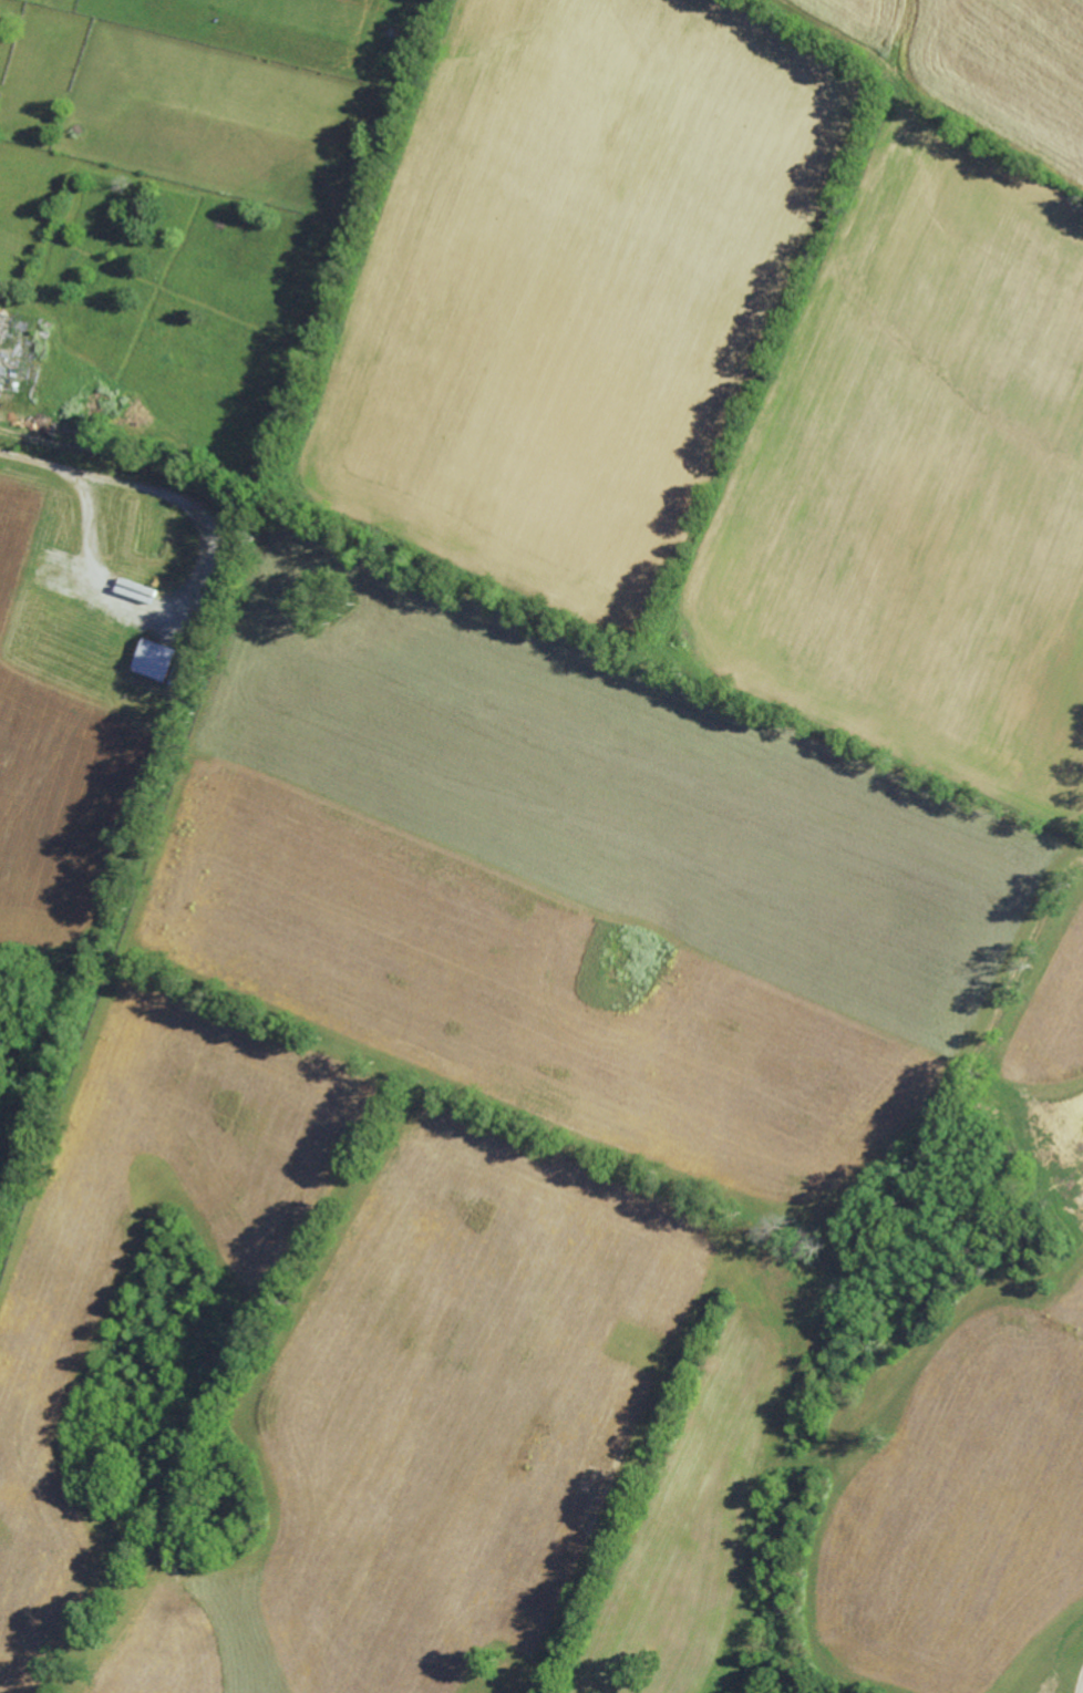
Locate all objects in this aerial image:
road: (39, 454)
road: (190, 575)
building: (156, 659)
road: (1081, 1685)

